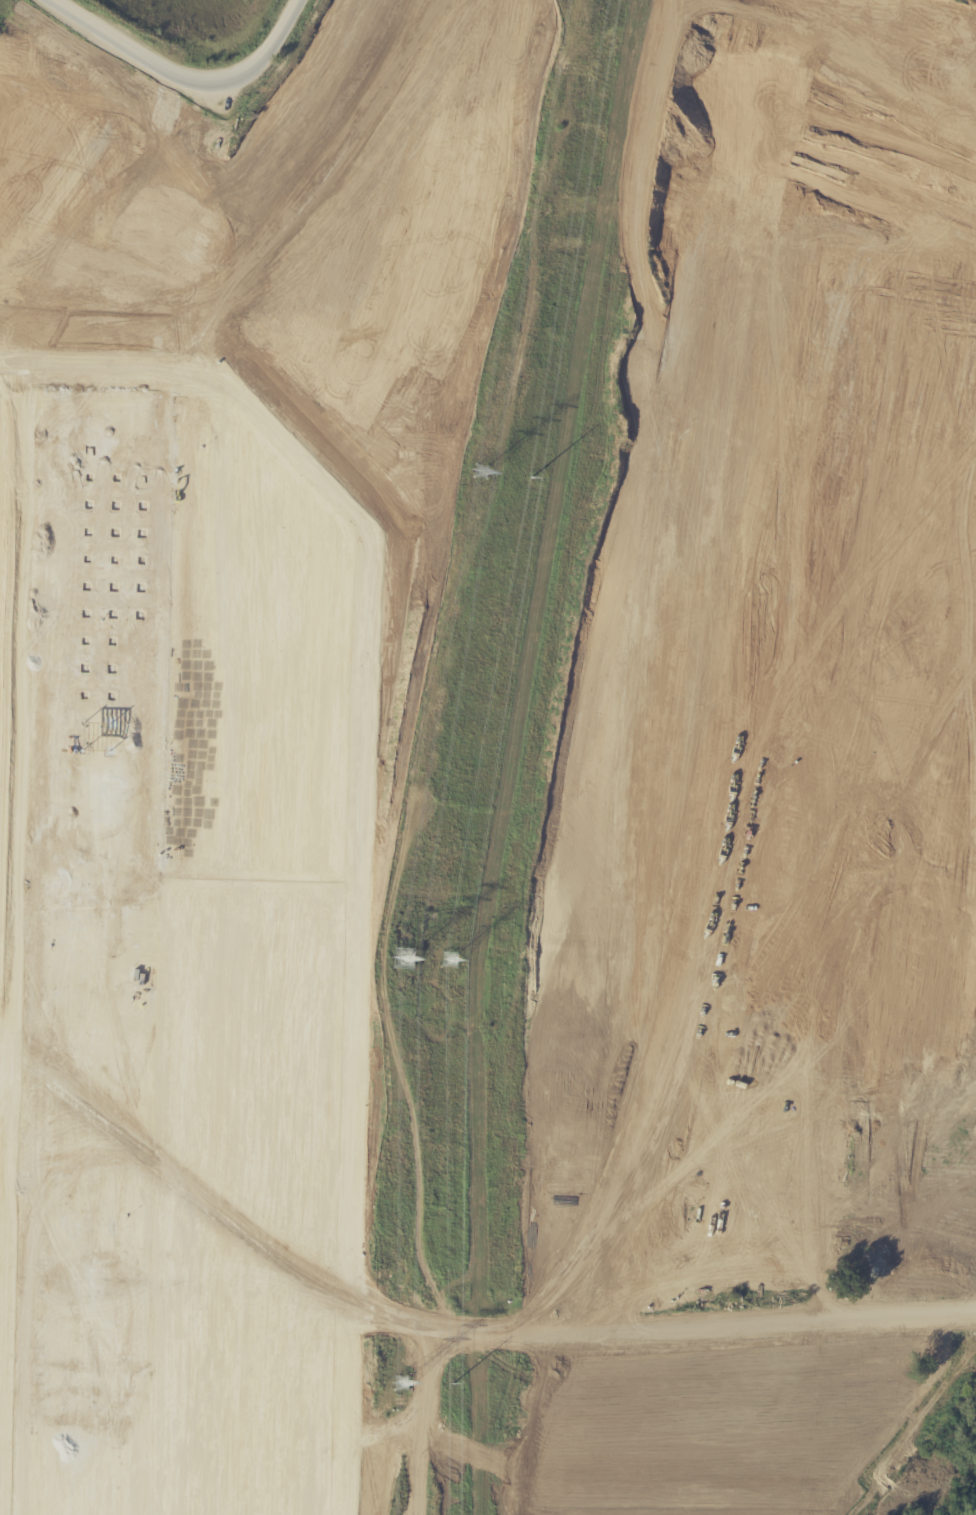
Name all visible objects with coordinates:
road: (288, 41)
road: (164, 44)
road: (398, 92)
road: (759, 101)
road: (269, 106)
road: (755, 129)
road: (724, 143)
road: (748, 143)
road: (487, 152)
road: (31, 168)
road: (941, 169)
road: (734, 173)
road: (525, 178)
road: (757, 178)
road: (66, 180)
road: (224, 185)
road: (101, 191)
road: (157, 206)
road: (128, 216)
road: (227, 220)
road: (63, 250)
road: (294, 256)
road: (517, 267)
road: (828, 272)
road: (390, 299)
road: (307, 317)
road: (751, 334)
road: (381, 338)
road: (332, 376)
road: (920, 407)
road: (727, 432)
road: (763, 433)
road: (797, 434)
power tower: (480, 473)
power tower: (531, 479)
road: (644, 485)
road: (753, 493)
road: (691, 509)
road: (834, 526)
road: (652, 588)
road: (438, 589)
road: (402, 591)
road: (859, 649)
road: (917, 652)
road: (895, 653)
road: (929, 654)
road: (963, 654)
road: (735, 687)
road: (712, 724)
road: (362, 735)
road: (398, 736)
road: (708, 761)
road: (705, 796)
road: (512, 803)
road: (724, 832)
road: (704, 868)
road: (395, 881)
road: (932, 899)
road: (703, 908)
road: (813, 910)
road: (357, 940)
road: (702, 944)
building: (168, 960)
road: (591, 960)
power tower: (405, 961)
power tower: (449, 961)
road: (721, 979)
road: (392, 1002)
road: (700, 1015)
road: (699, 1056)
road: (698, 1093)
road: (697, 1129)
road: (929, 1139)
road: (698, 1163)
road: (425, 1167)
road: (388, 1168)
road: (386, 1176)
road: (351, 1187)
road: (696, 1192)
road: (526, 1336)
power tower: (402, 1385)
power tower: (453, 1385)
road: (383, 1415)

